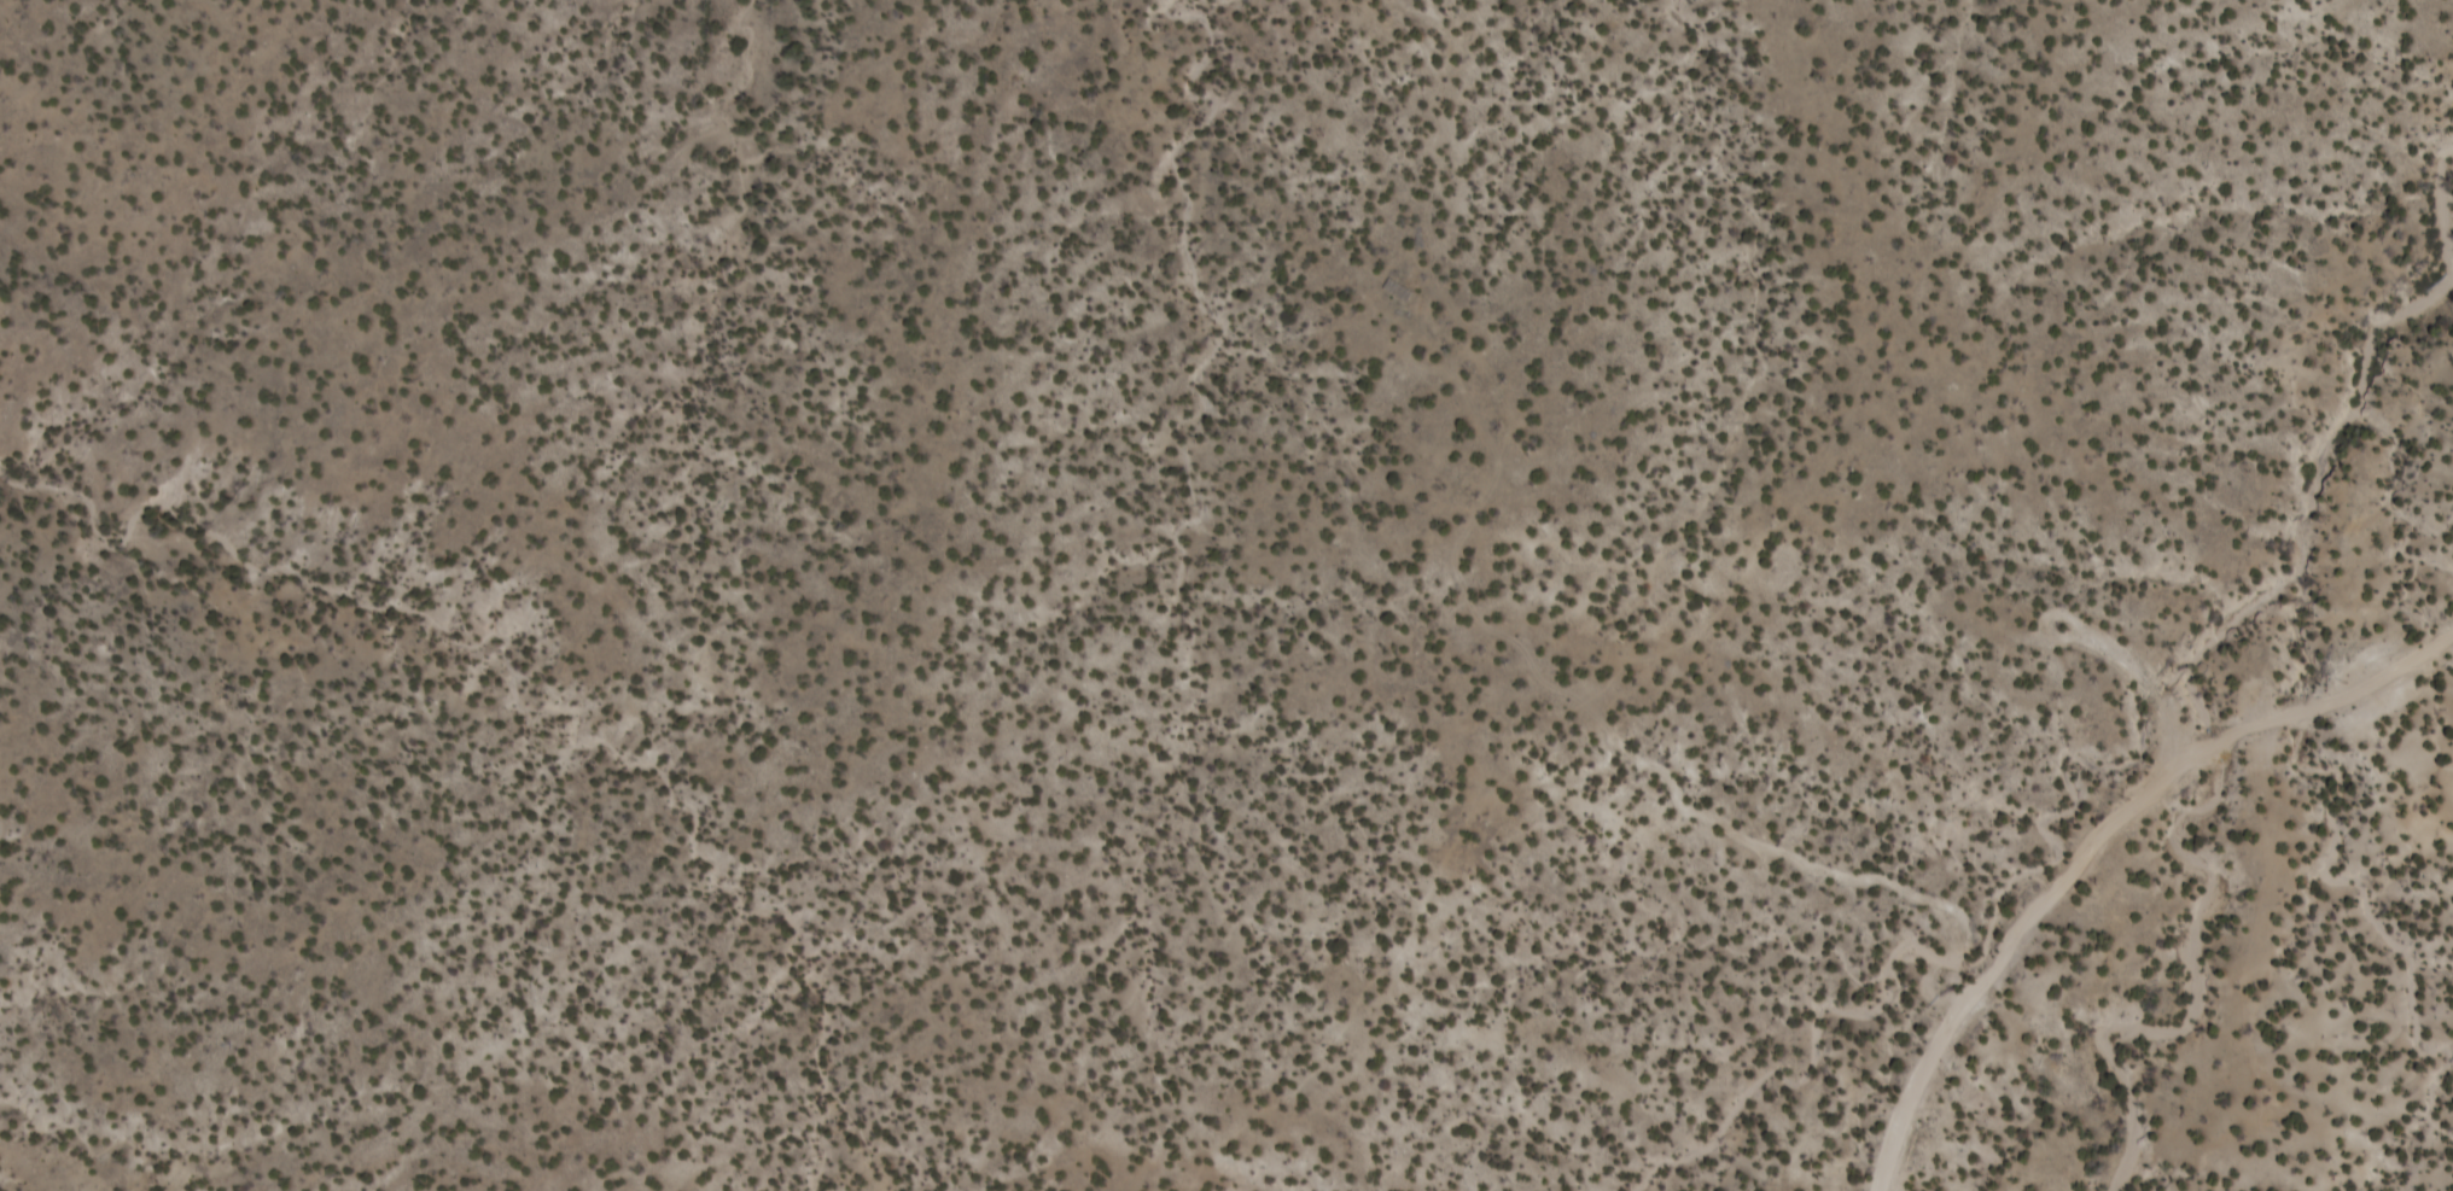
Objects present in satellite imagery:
road: (2096, 835)

